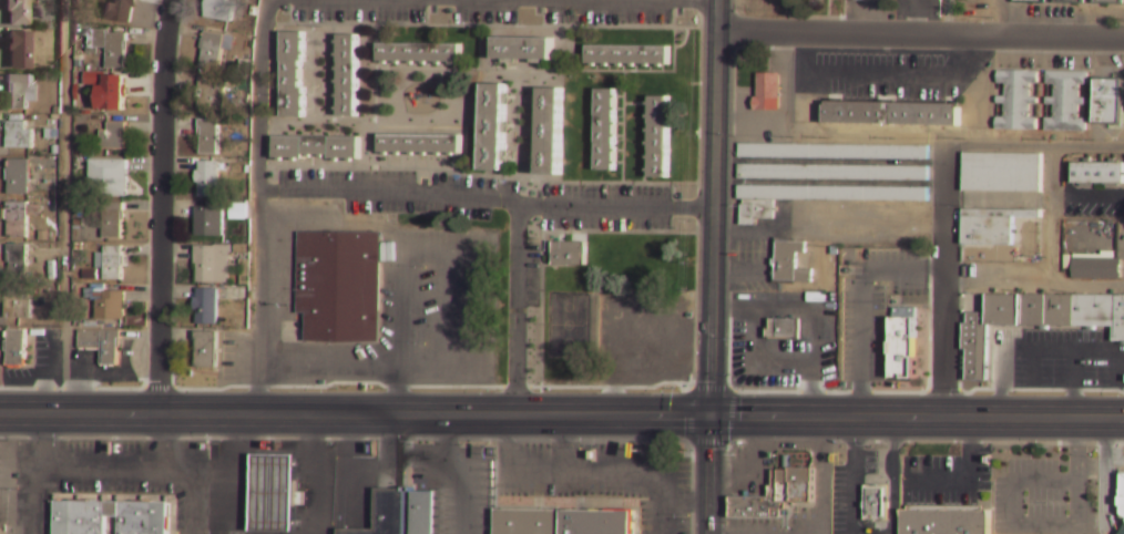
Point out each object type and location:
building: (1029, 1)
building: (1067, 1)
building: (1108, 2)
building: (124, 10)
building: (223, 10)
building: (20, 12)
road: (867, 17)
road: (914, 18)
road: (1000, 18)
road: (920, 34)
building: (524, 49)
building: (21, 50)
building: (213, 51)
building: (116, 52)
building: (419, 53)
building: (626, 53)
building: (292, 75)
building: (348, 75)
building: (18, 92)
building: (766, 94)
building: (117, 95)
building: (212, 96)
road: (256, 97)
building: (1018, 102)
building: (1066, 103)
building: (1110, 105)
building: (890, 116)
building: (492, 127)
building: (551, 132)
building: (605, 132)
building: (20, 136)
building: (115, 137)
building: (210, 137)
building: (657, 137)
building: (420, 144)
road: (1034, 145)
building: (315, 146)
building: (831, 153)
building: (831, 174)
building: (1002, 174)
building: (1100, 176)
building: (20, 178)
building: (110, 179)
building: (210, 179)
building: (832, 195)
road: (63, 206)
road: (162, 206)
road: (713, 207)
building: (754, 210)
building: (862, 210)
building: (236, 213)
building: (18, 220)
building: (114, 223)
building: (212, 224)
building: (858, 226)
building: (991, 228)
building: (566, 251)
building: (787, 261)
building: (19, 263)
building: (112, 264)
building: (214, 266)
building: (1096, 270)
road: (943, 281)
building: (336, 287)
building: (18, 307)
building: (112, 308)
building: (208, 308)
road: (518, 309)
building: (1003, 309)
building: (1067, 310)
building: (1118, 318)
building: (783, 328)
building: (100, 343)
building: (901, 343)
building: (973, 346)
building: (14, 349)
building: (205, 349)
road: (354, 414)
traffic signals: (709, 417)
road: (916, 418)
road: (708, 475)
building: (265, 491)
building: (776, 492)
building: (1118, 501)
building: (877, 505)
building: (382, 513)
building: (420, 513)
building: (562, 522)
building: (944, 524)
building: (79, 525)

